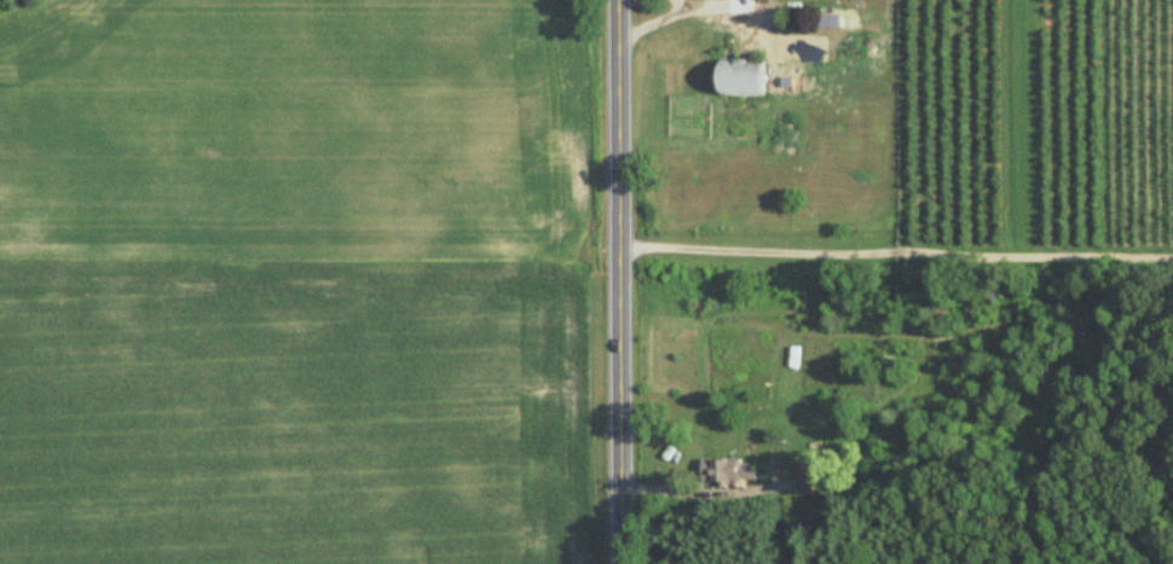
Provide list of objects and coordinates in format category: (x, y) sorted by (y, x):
building: (741, 80)
road: (618, 281)
building: (729, 470)
building: (809, 481)

